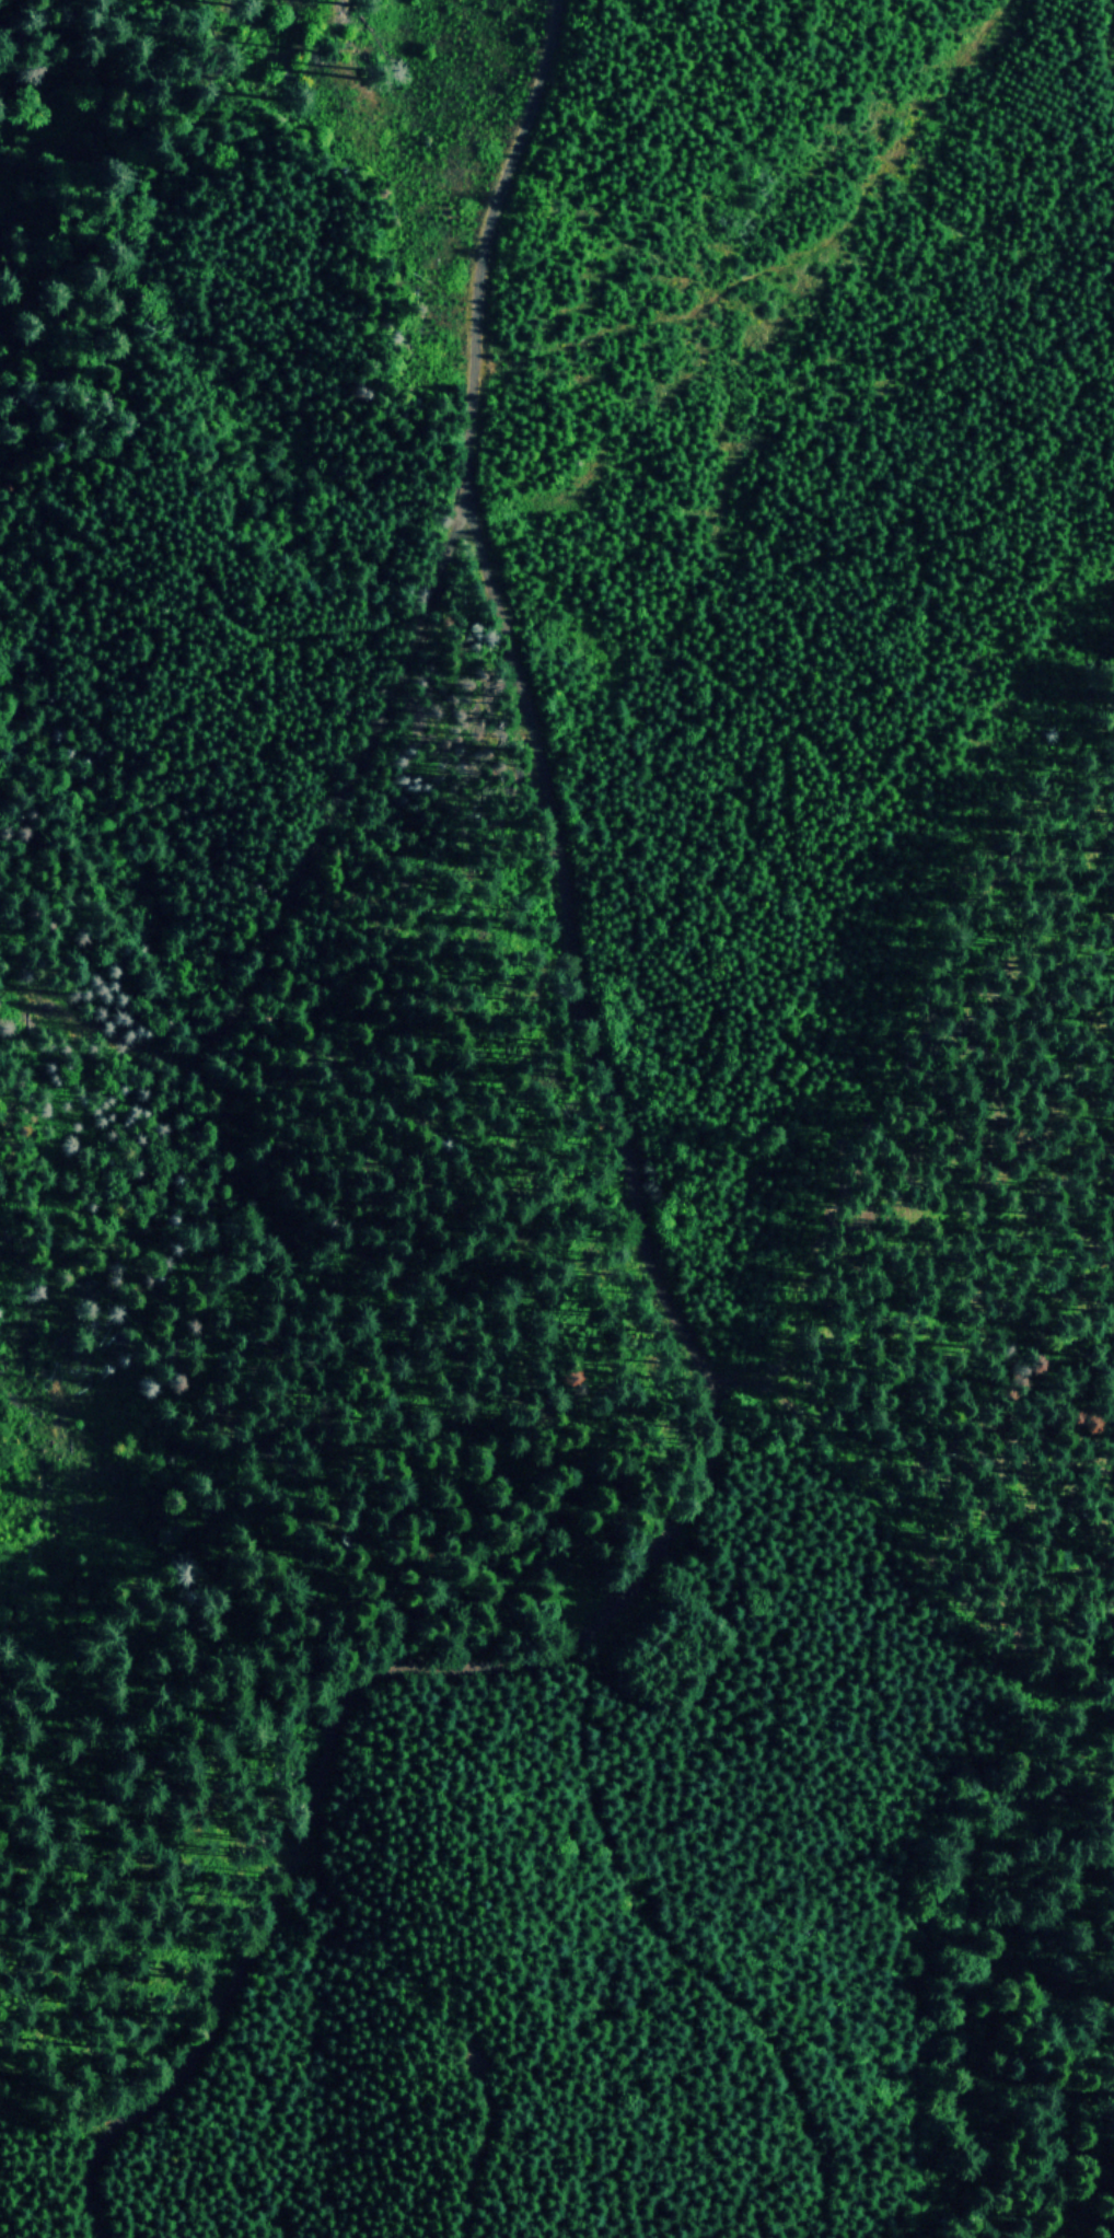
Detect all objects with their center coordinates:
road: (666, 1279)

